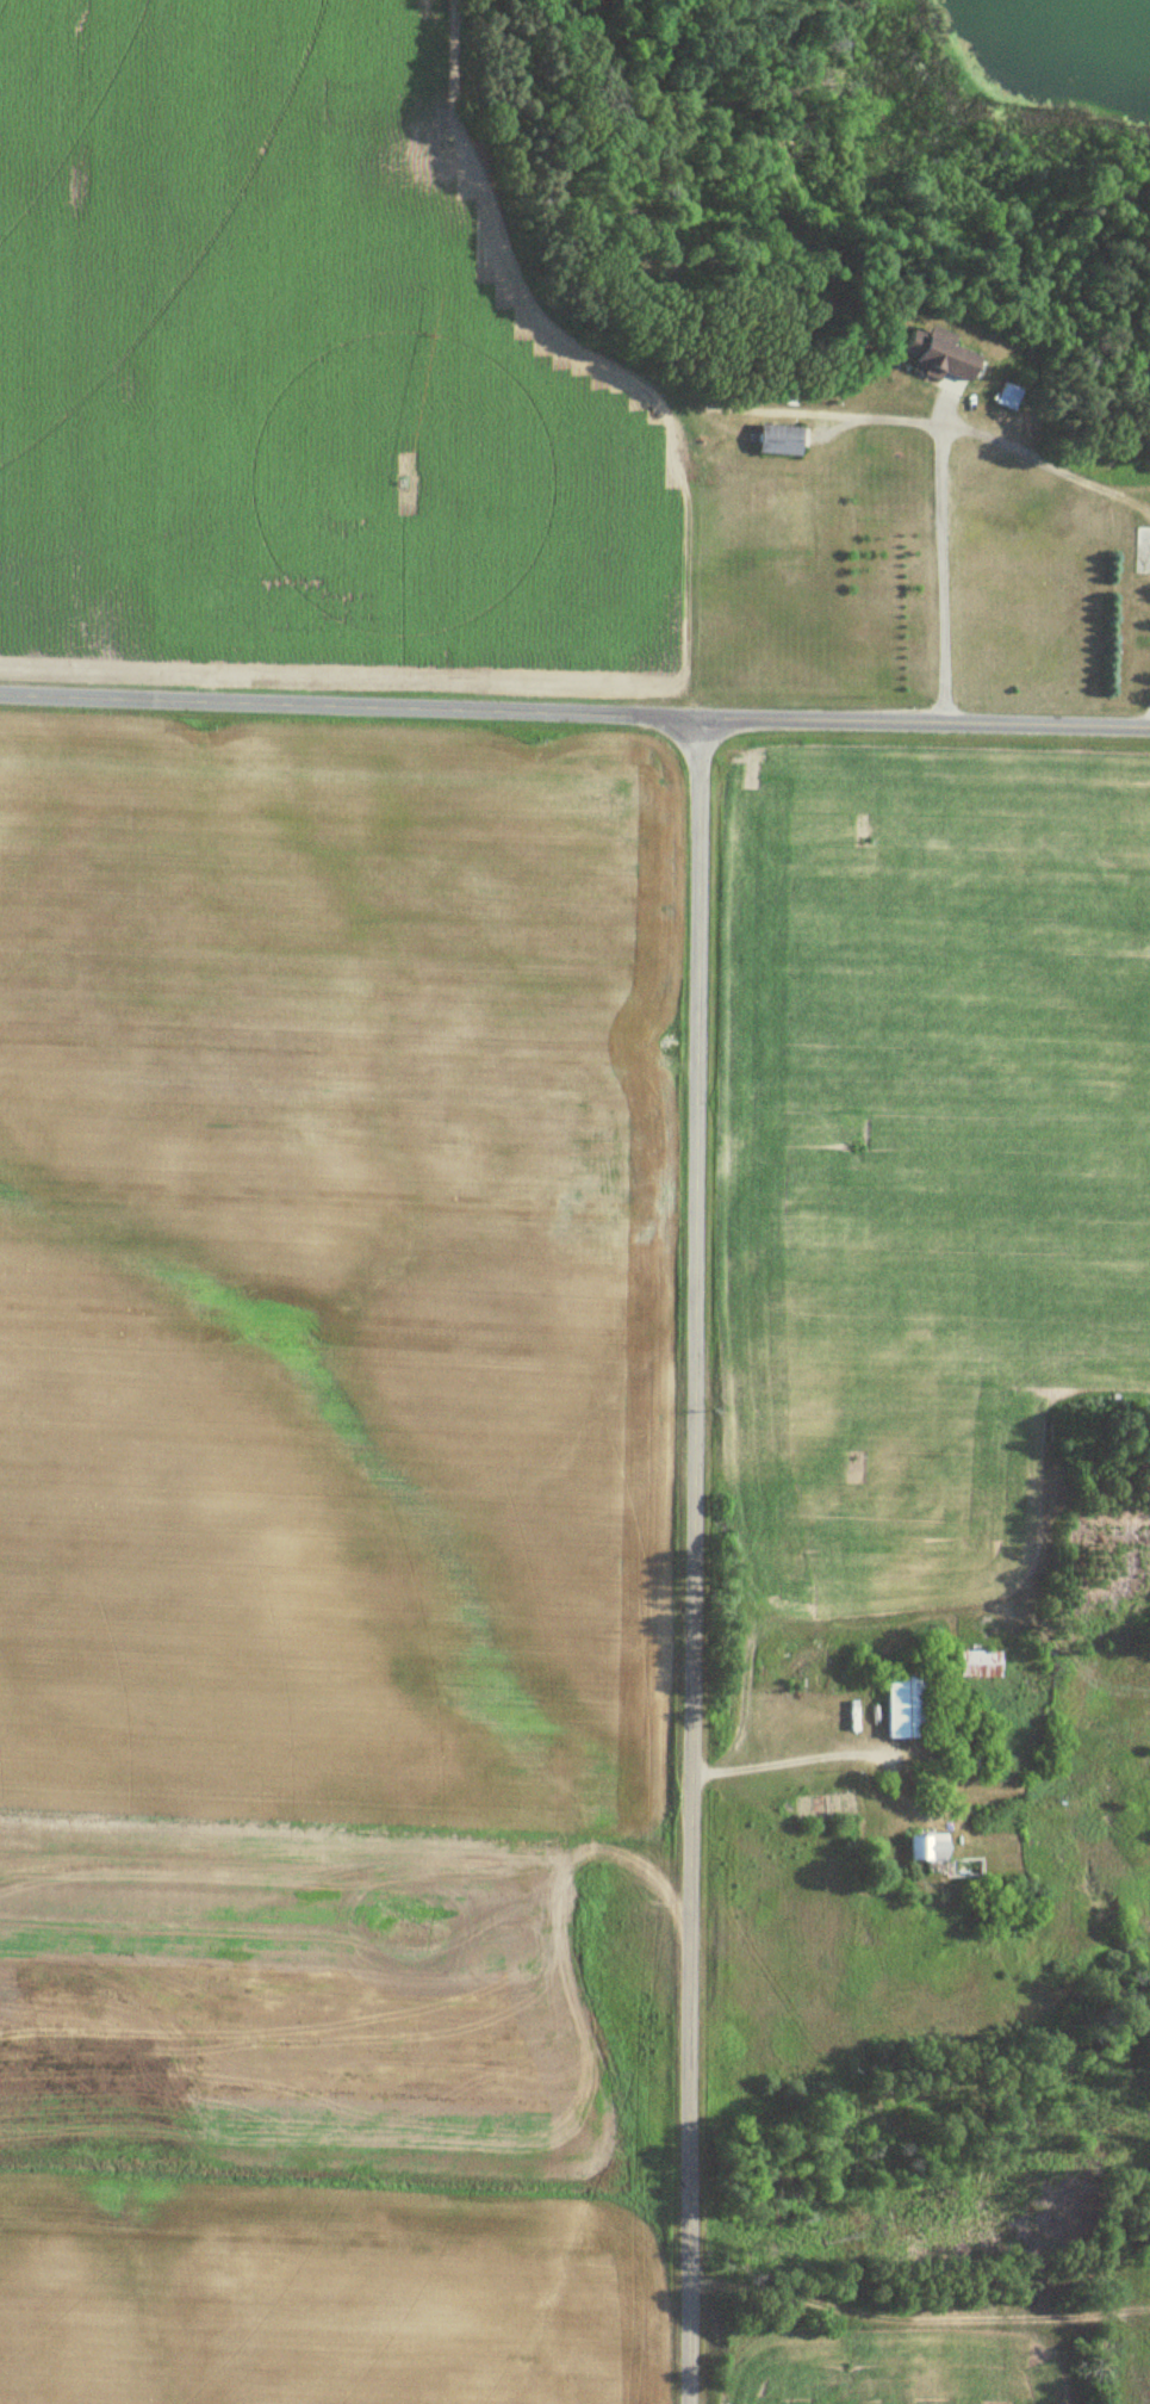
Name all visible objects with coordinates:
building: (920, 357)
building: (994, 399)
building: (769, 441)
road: (943, 576)
road: (574, 712)
road: (1149, 715)
road: (692, 1560)
building: (974, 1665)
building: (897, 1709)
building: (970, 1722)
road: (790, 1764)
building: (920, 1848)

